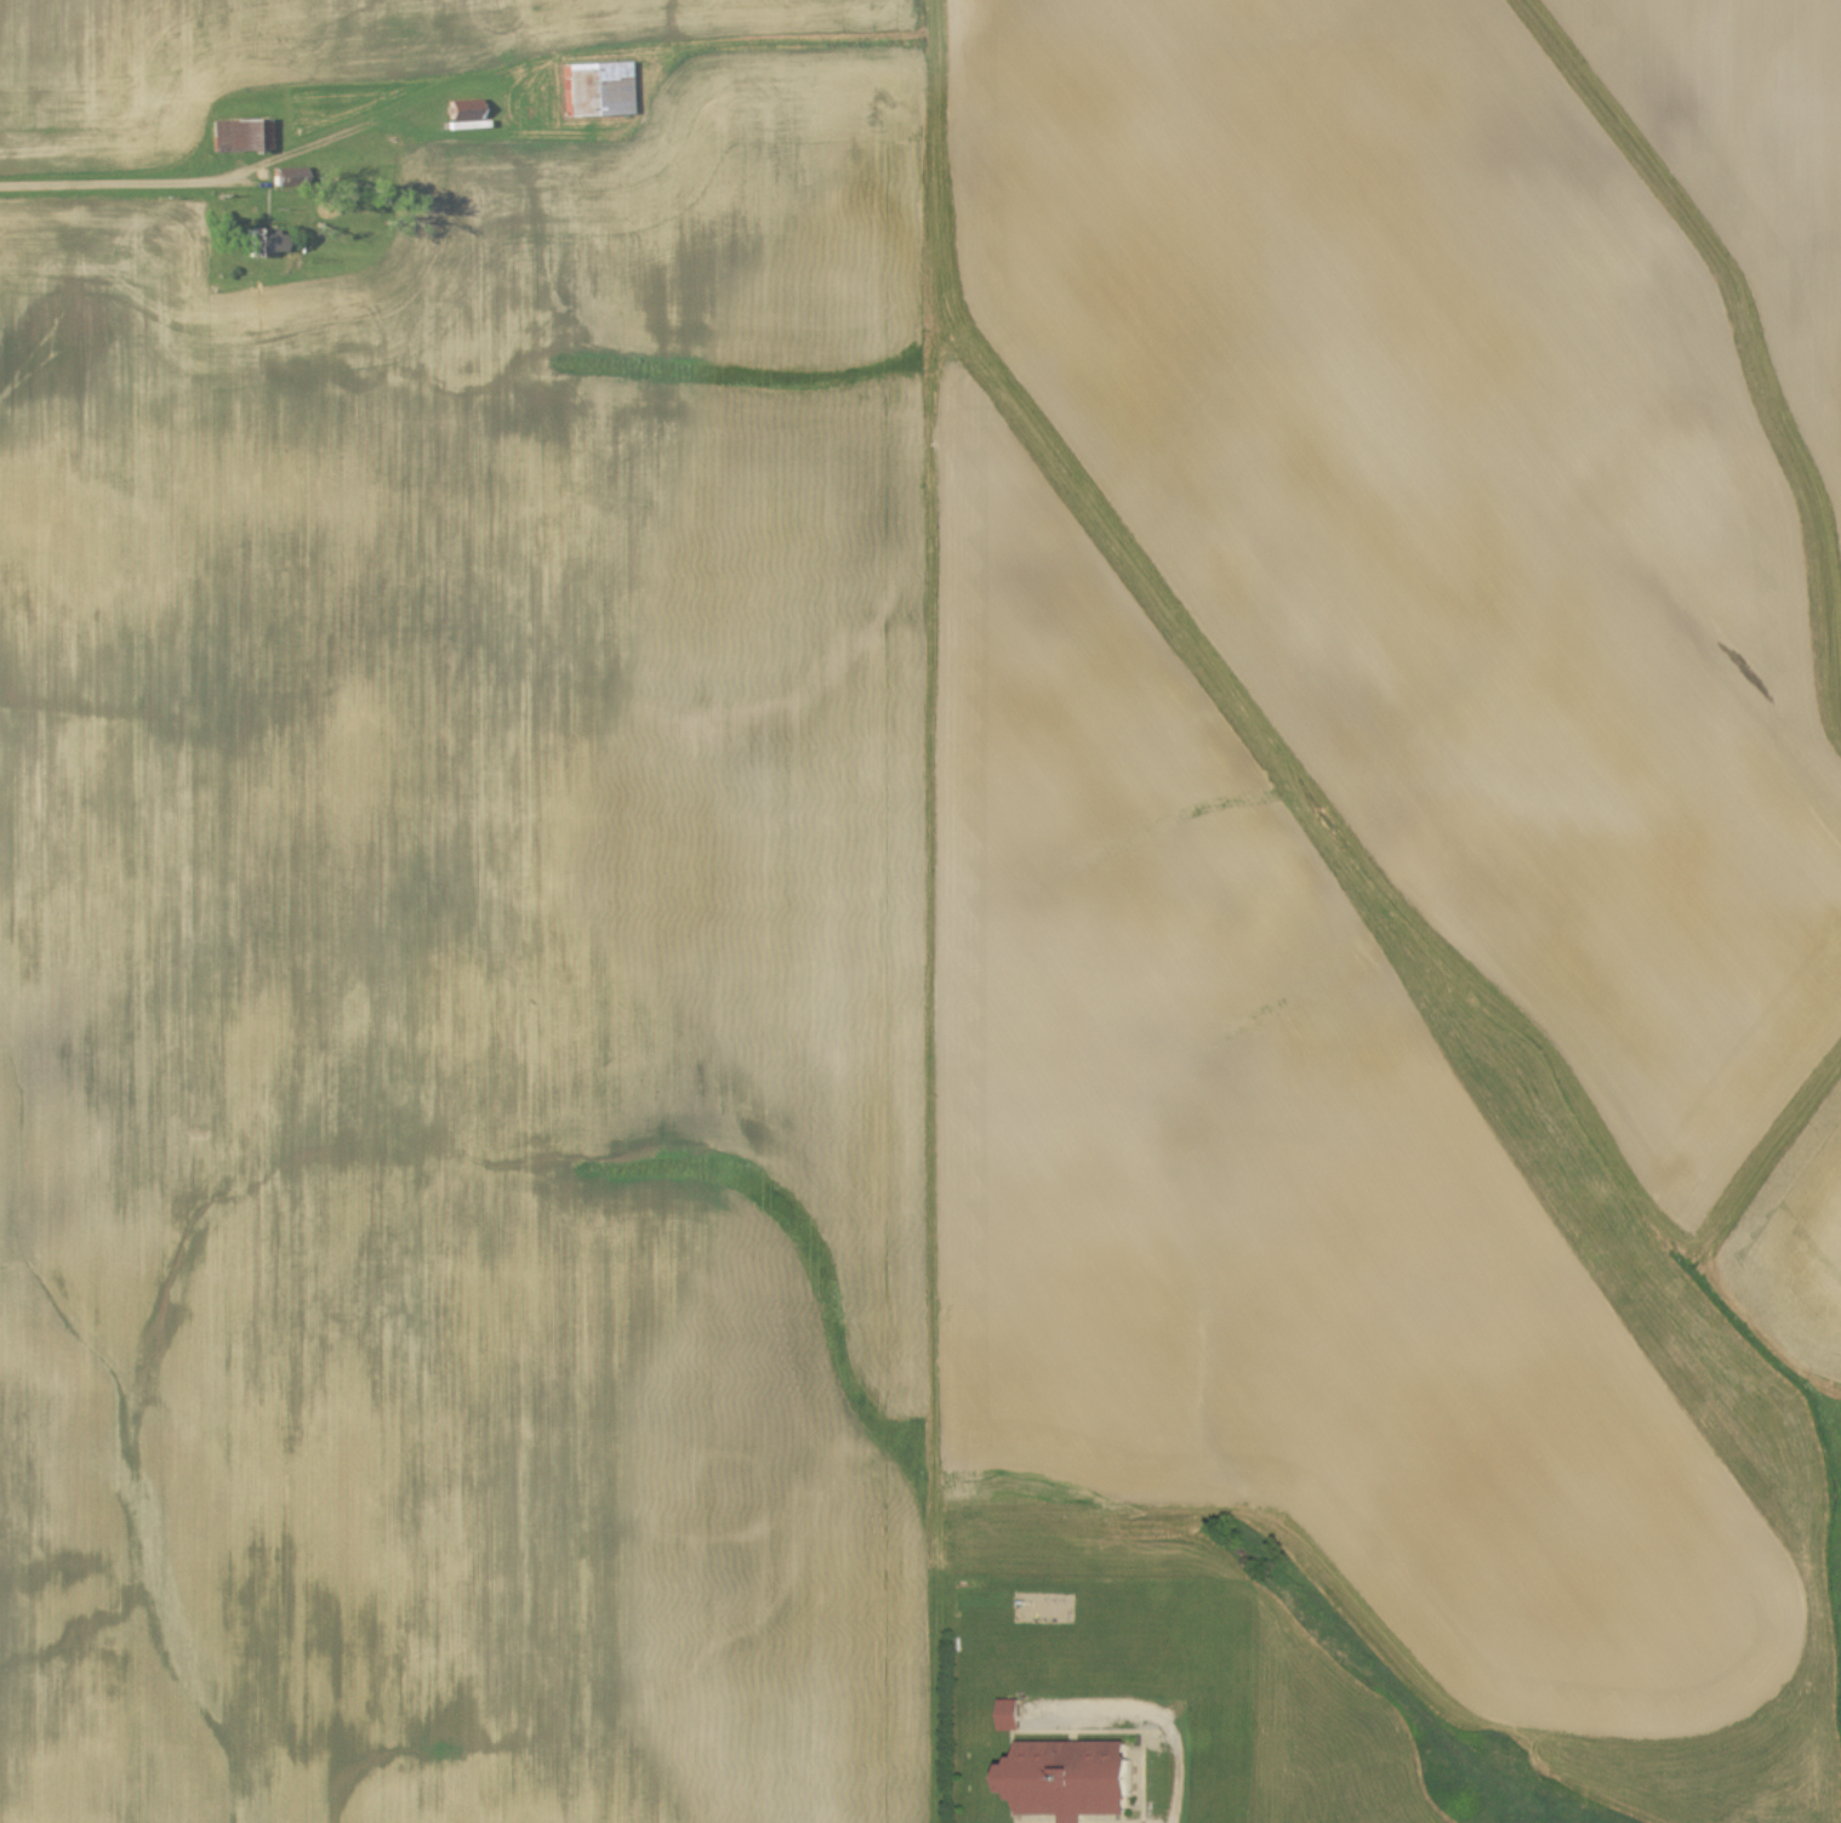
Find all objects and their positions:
building: (597, 91)
building: (464, 113)
building: (240, 136)
building: (263, 243)
building: (1013, 1715)
building: (1071, 1781)

